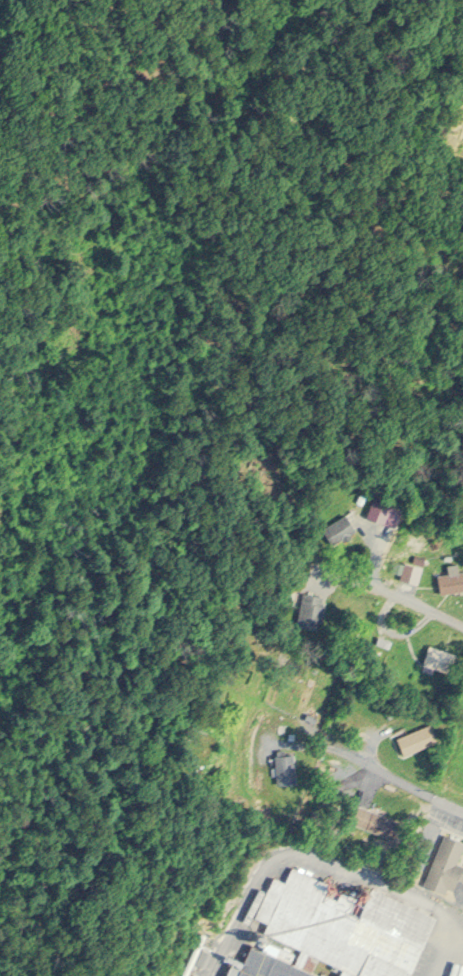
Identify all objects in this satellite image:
building: (343, 525)
building: (405, 565)
building: (449, 576)
road: (394, 600)
building: (312, 608)
building: (441, 656)
building: (418, 736)
building: (287, 767)
road: (406, 780)
building: (377, 818)
parking lot: (447, 818)
building: (445, 862)
building: (341, 925)
parking lot: (460, 969)

